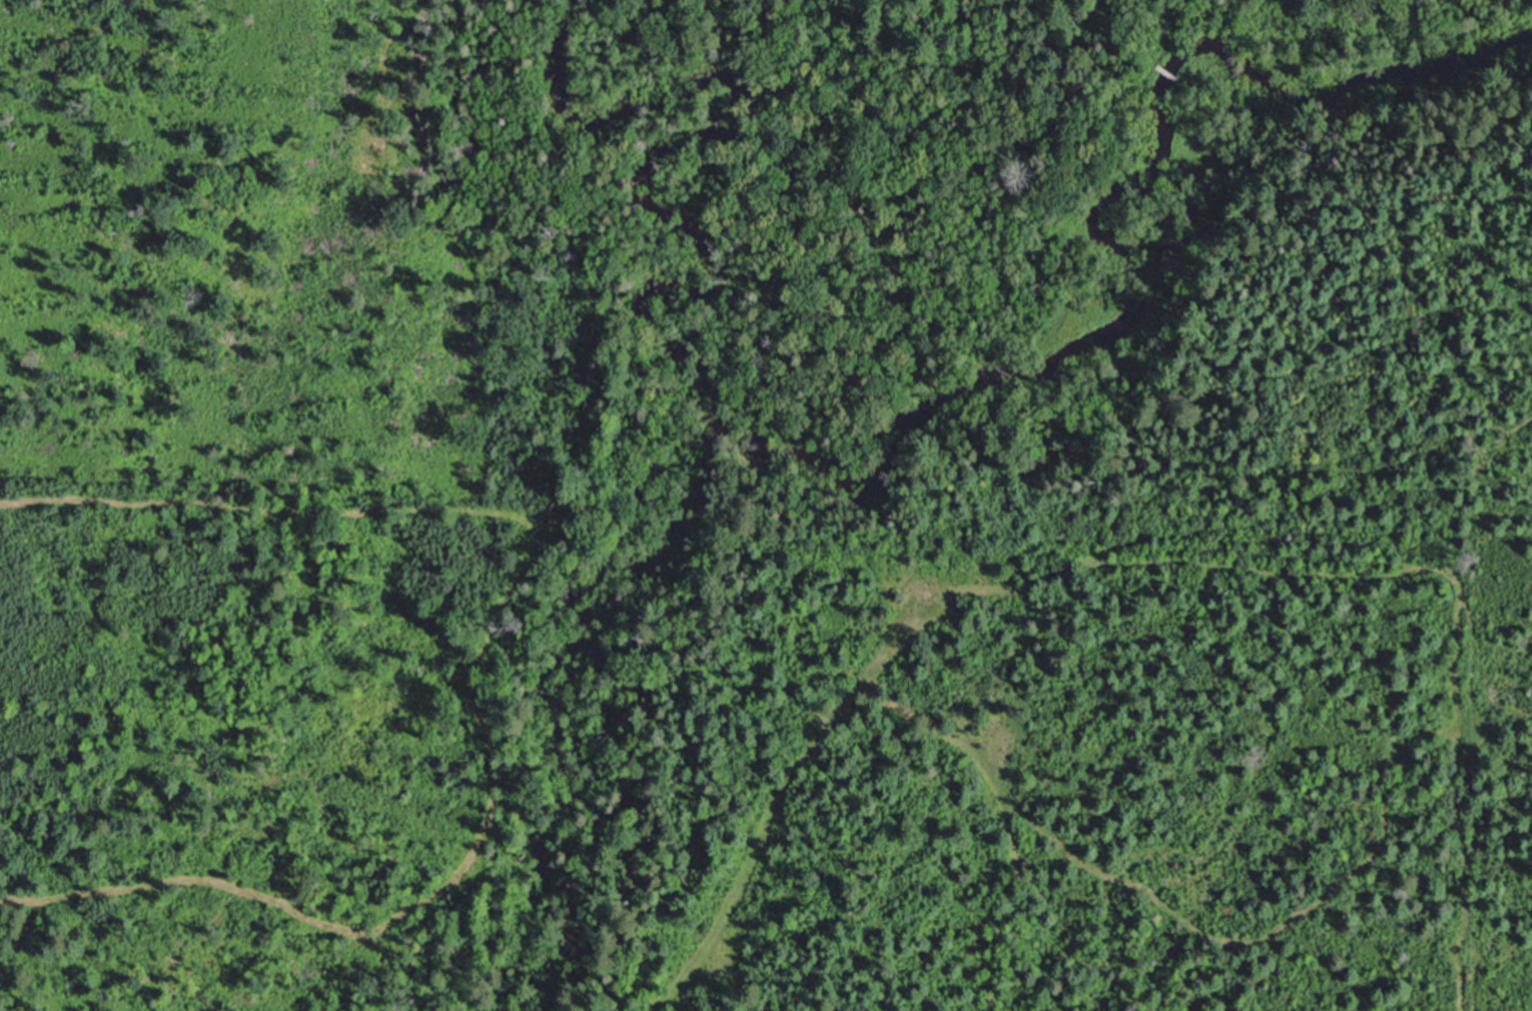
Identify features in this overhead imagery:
river: (1142, 157)

